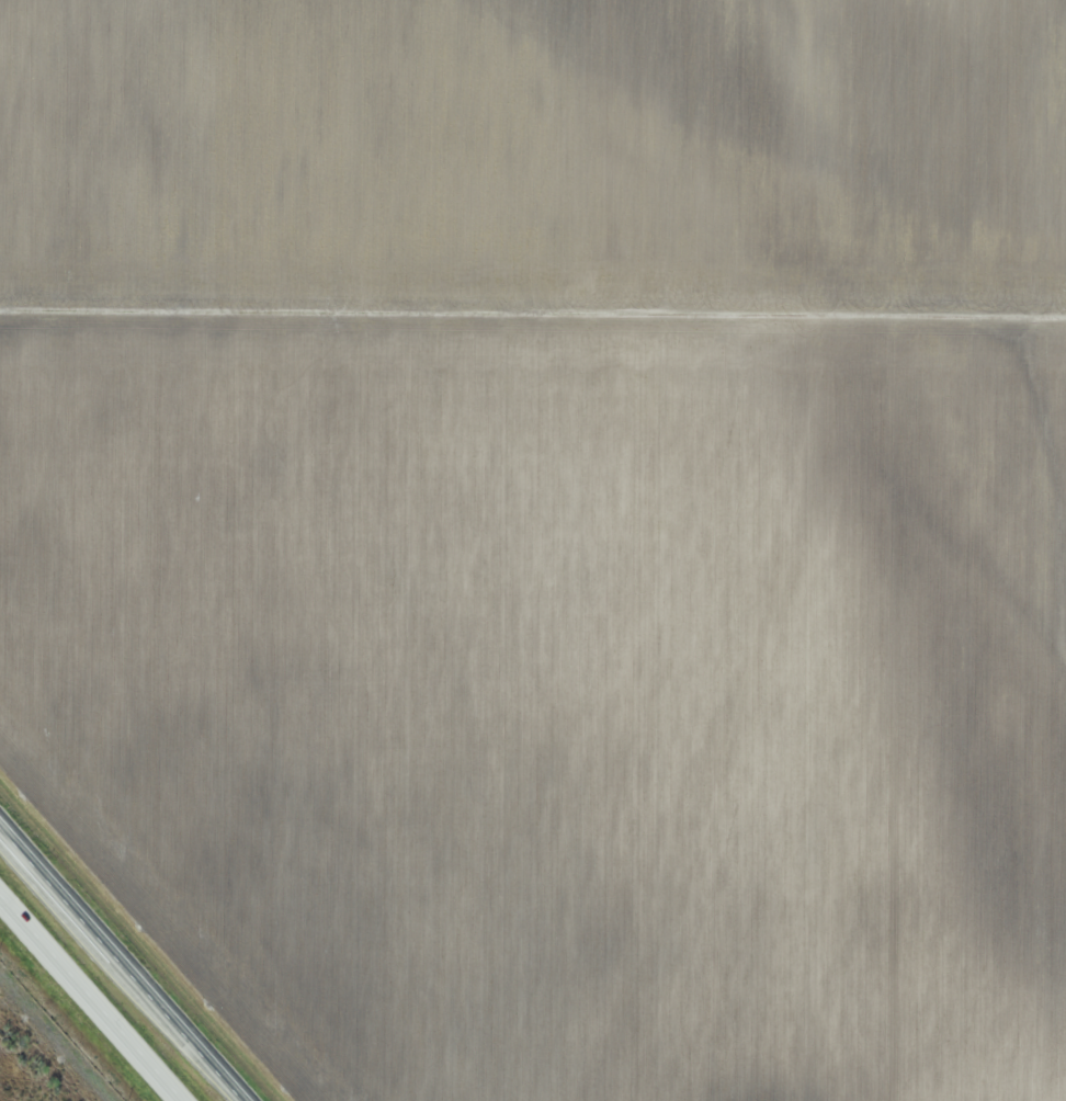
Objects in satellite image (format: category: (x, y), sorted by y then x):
road: (126, 958)
road: (90, 999)

